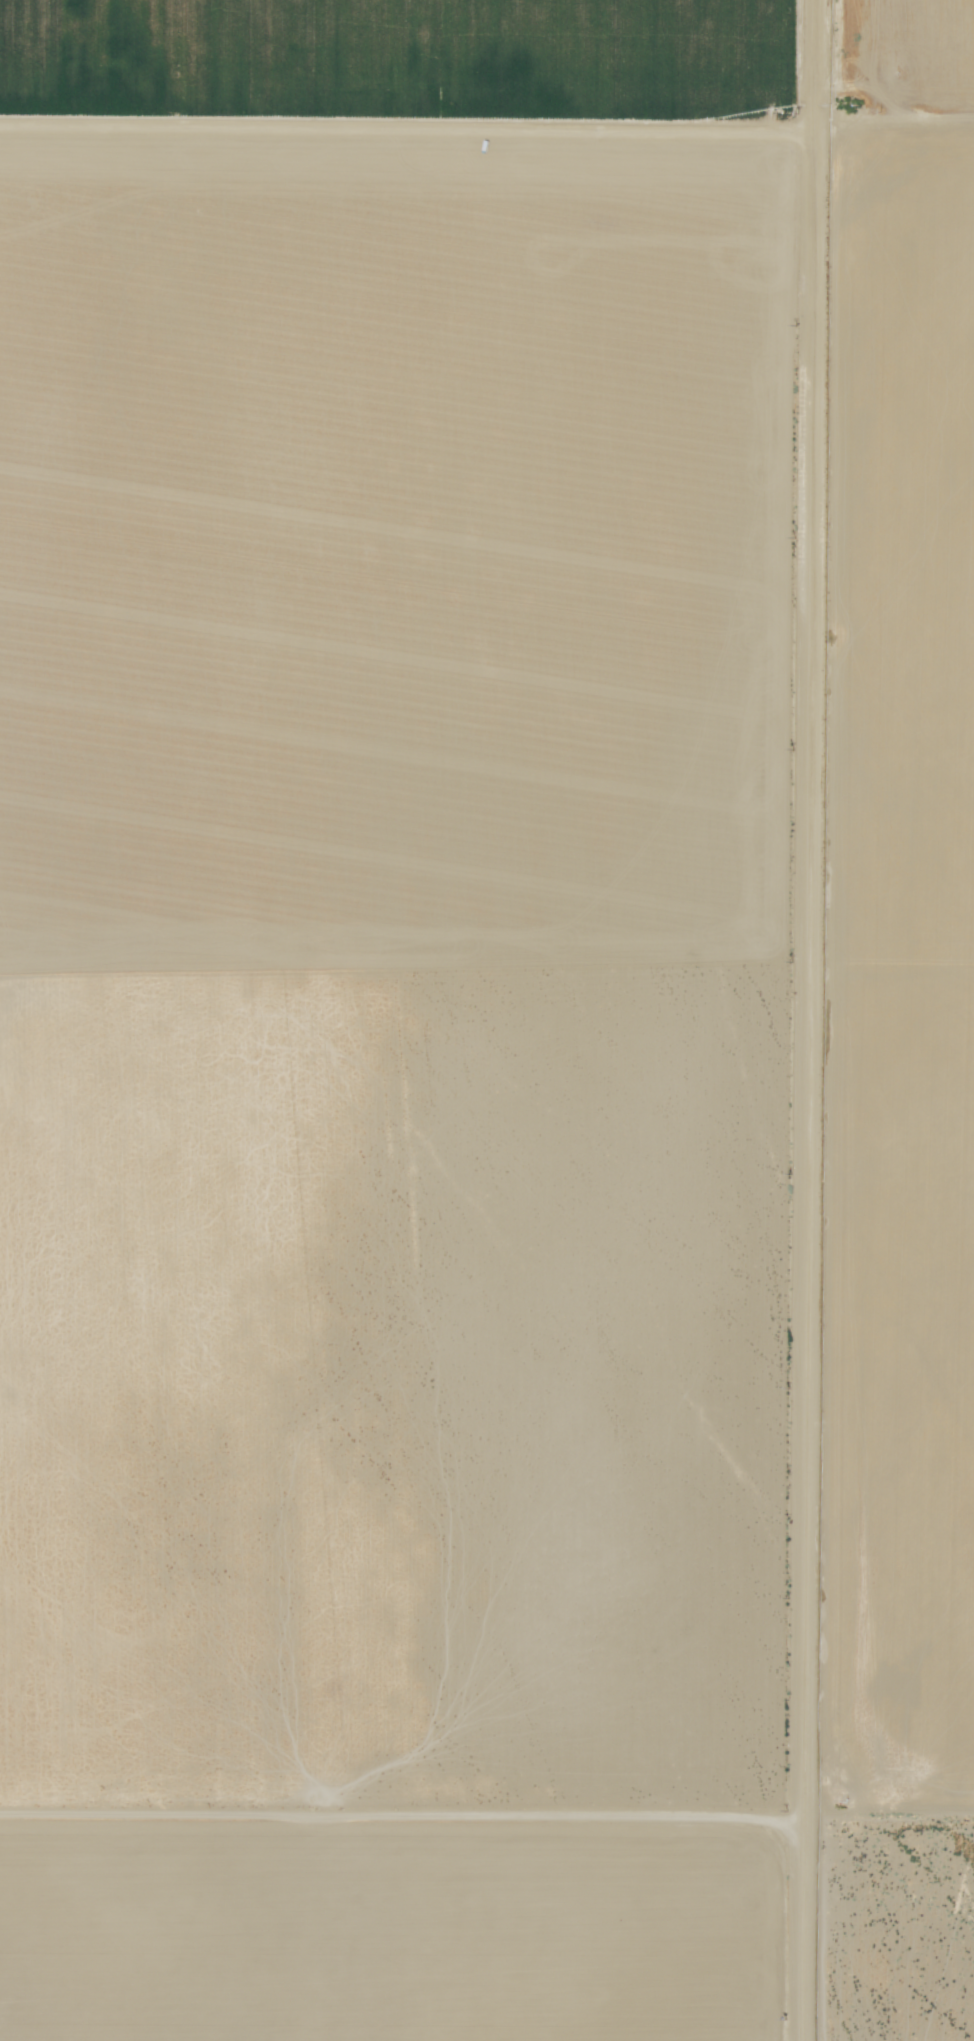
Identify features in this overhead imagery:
crop: (403, 66)
road: (487, 121)
road: (826, 1020)
road: (487, 1826)
crop: (395, 1933)

